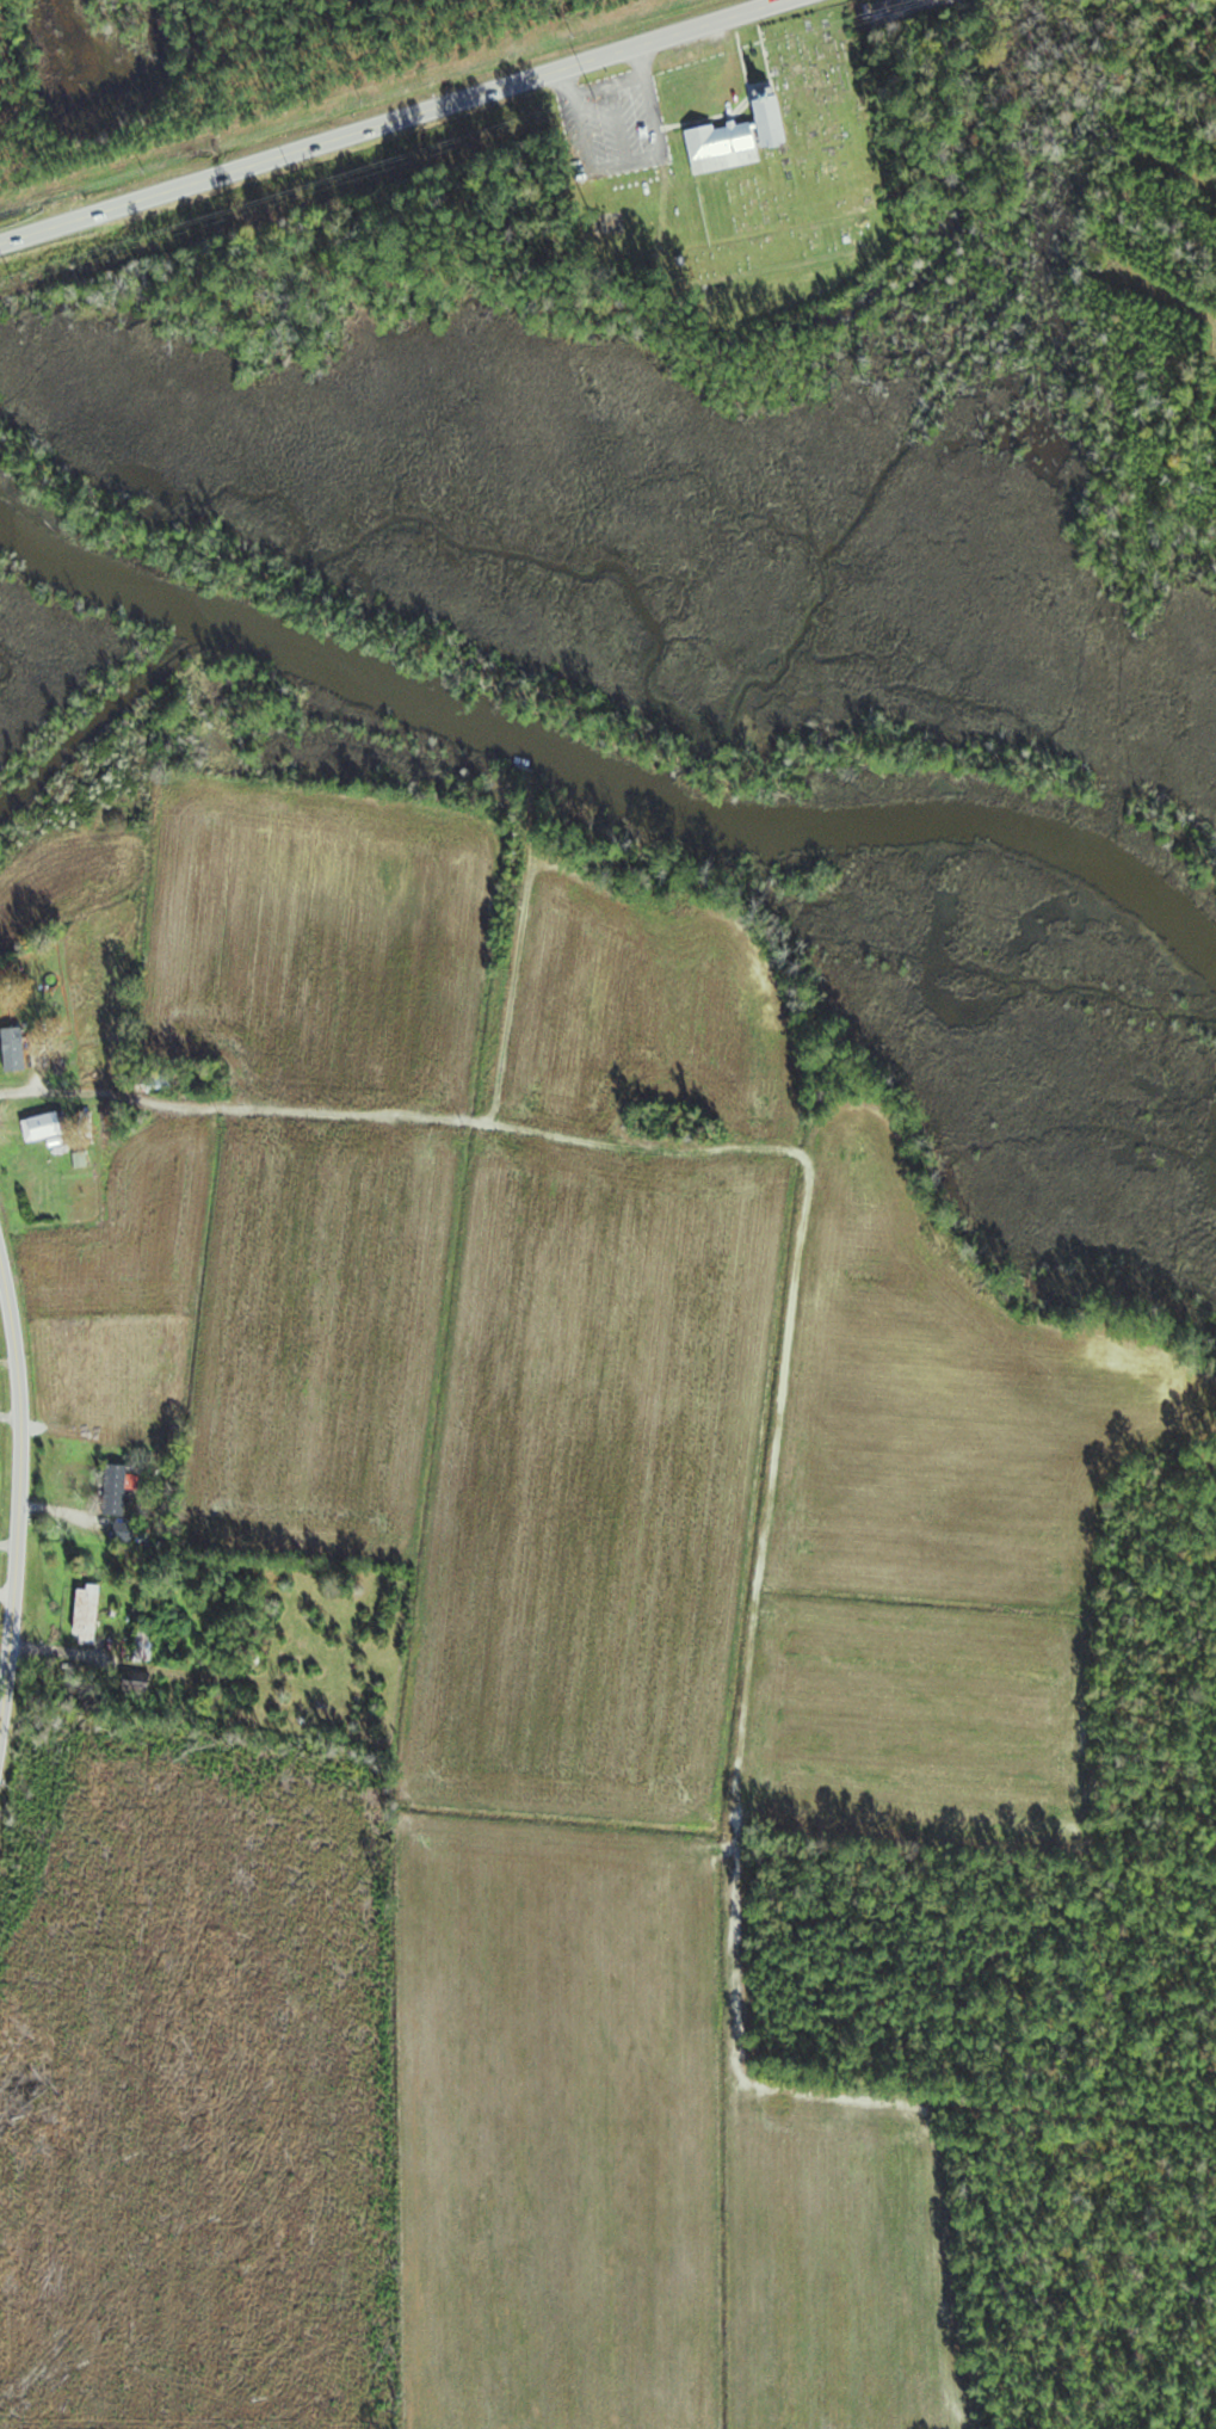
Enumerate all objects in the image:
road: (610, 85)
road: (408, 122)
building: (733, 141)
road: (630, 160)
building: (12, 1050)
building: (155, 1084)
road: (25, 1484)
building: (113, 1490)
building: (122, 1533)
road: (6, 1601)
building: (84, 1615)
building: (142, 1646)

